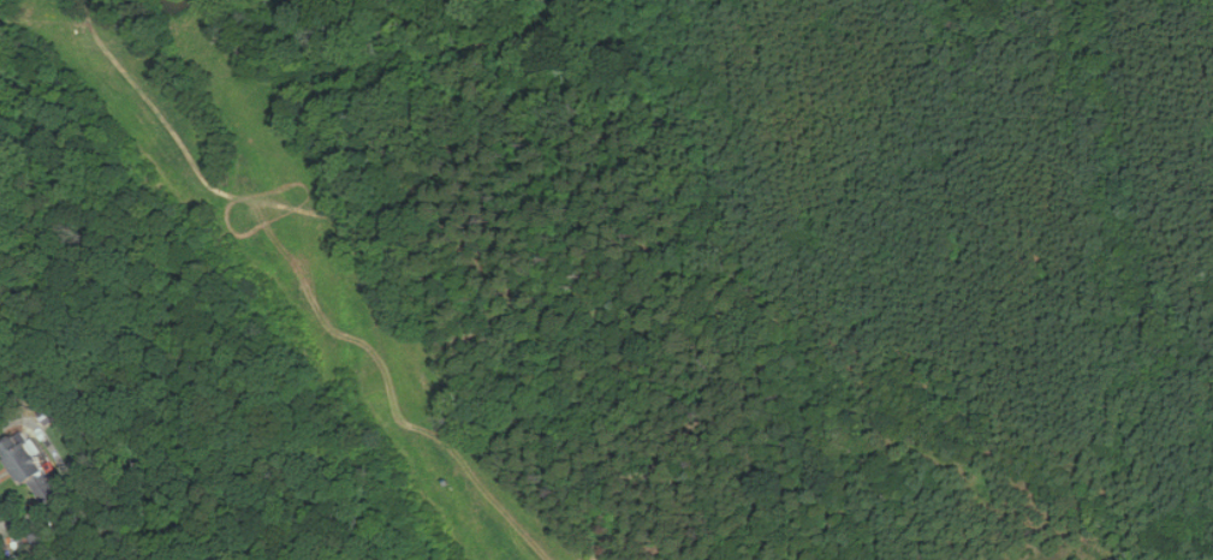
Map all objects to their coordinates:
building: (36, 471)
building: (52, 543)

